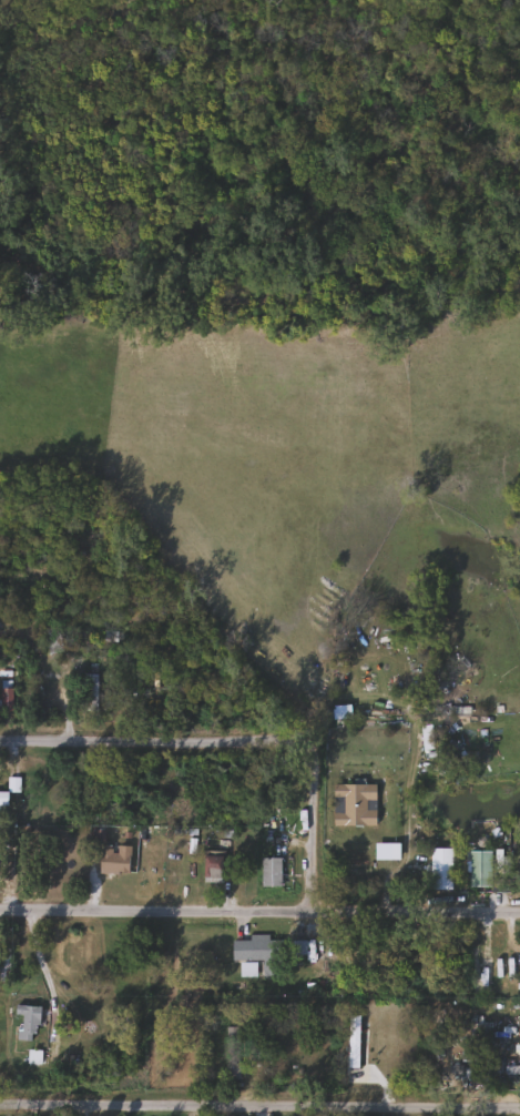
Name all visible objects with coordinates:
road: (259, 605)
building: (91, 692)
building: (4, 694)
building: (339, 711)
road: (157, 738)
building: (2, 798)
building: (354, 804)
building: (385, 851)
building: (113, 859)
building: (211, 866)
building: (439, 868)
building: (268, 872)
road: (259, 914)
building: (297, 947)
building: (258, 952)
building: (3, 964)
building: (26, 1022)
building: (231, 1053)
road: (259, 1104)

